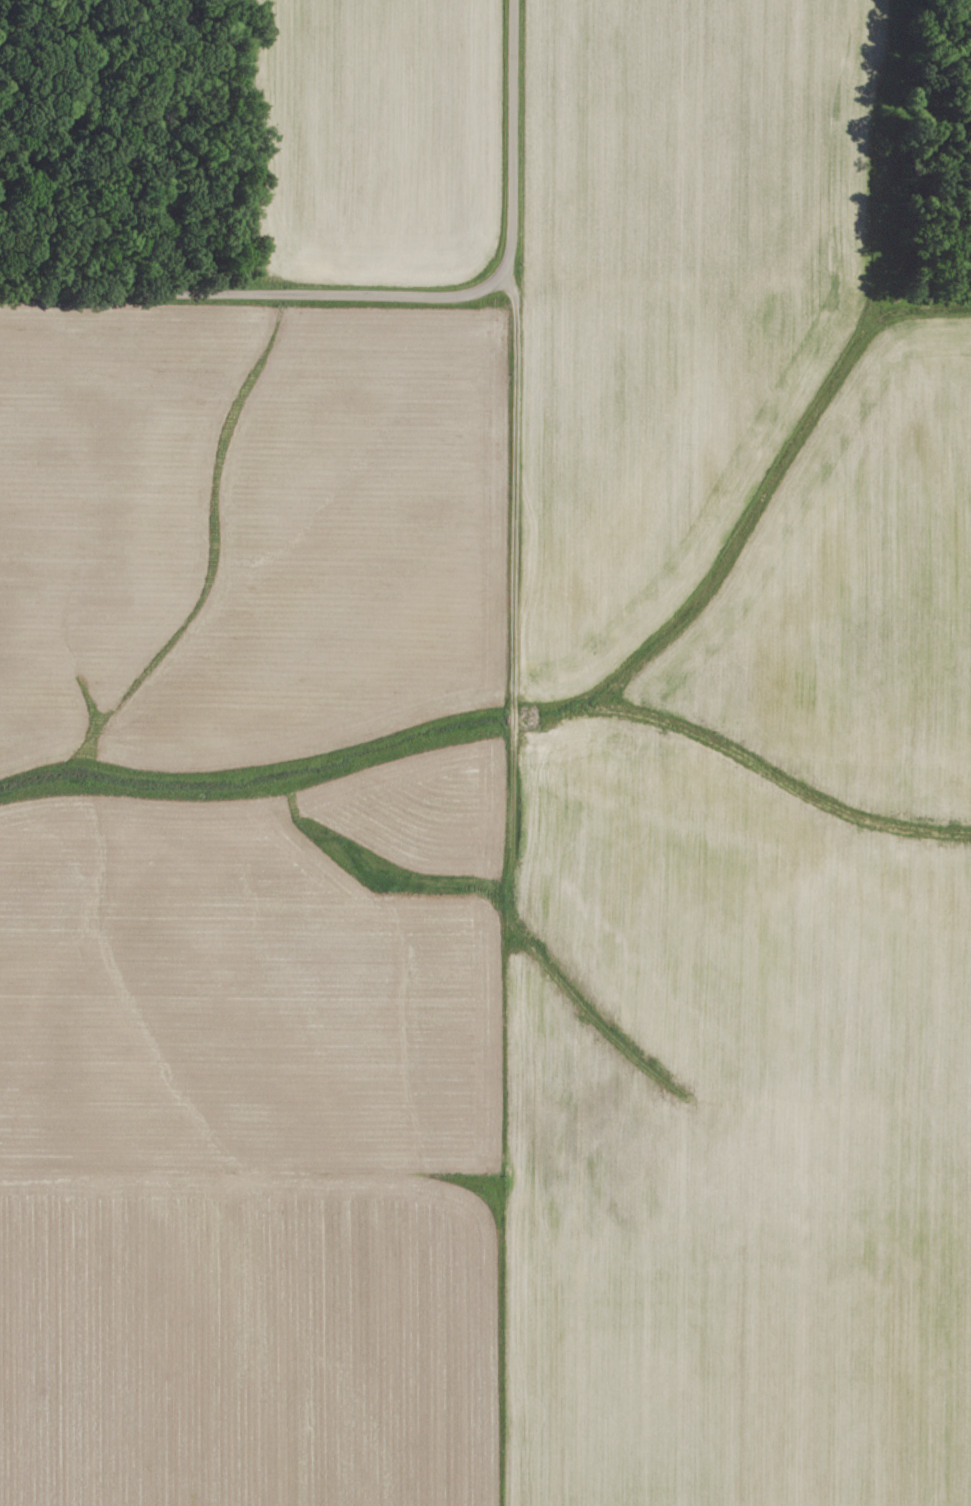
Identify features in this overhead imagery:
road: (391, 294)
road: (507, 652)

